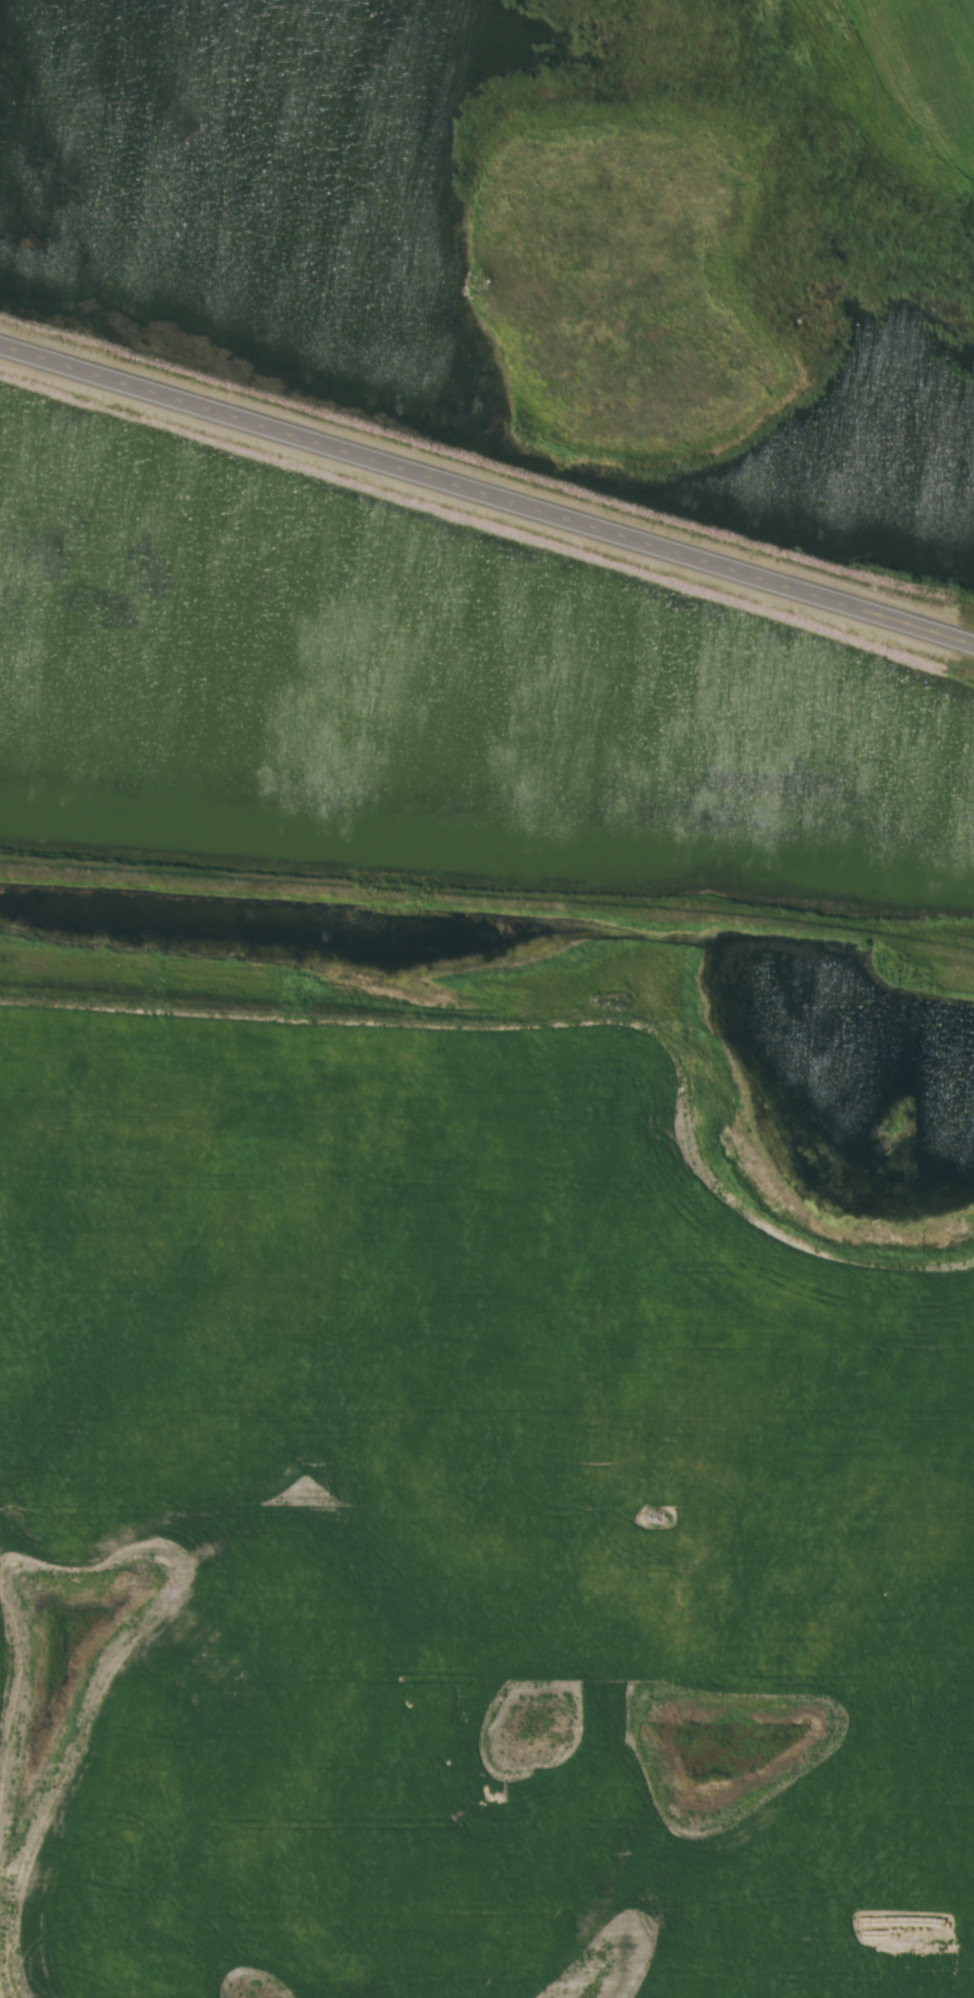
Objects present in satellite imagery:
road: (487, 495)

